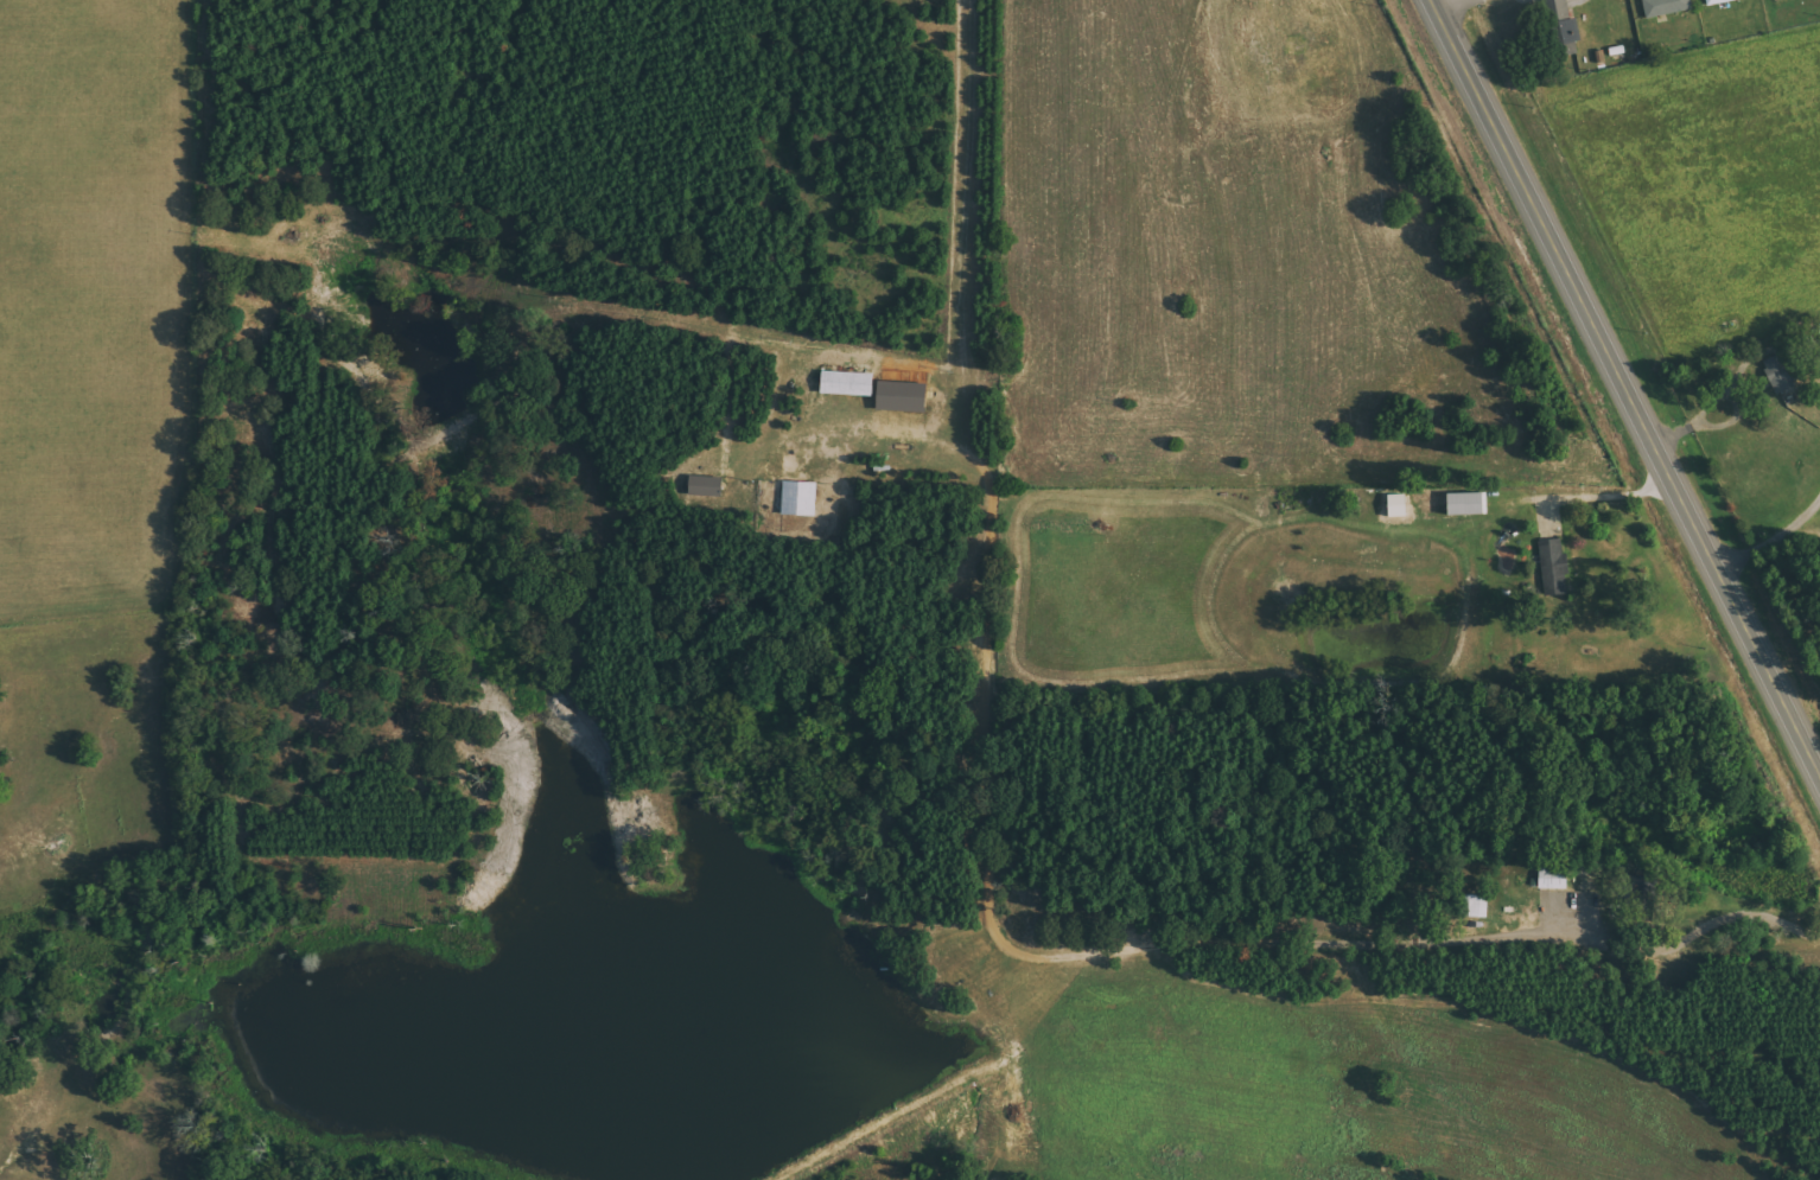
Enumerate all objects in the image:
road: (1440, 1)
building: (1718, 1)
building: (1667, 6)
building: (1565, 26)
building: (1781, 374)
building: (849, 383)
road: (1625, 388)
building: (904, 396)
building: (706, 486)
building: (801, 498)
building: (1468, 504)
building: (1554, 567)
building: (1554, 879)

